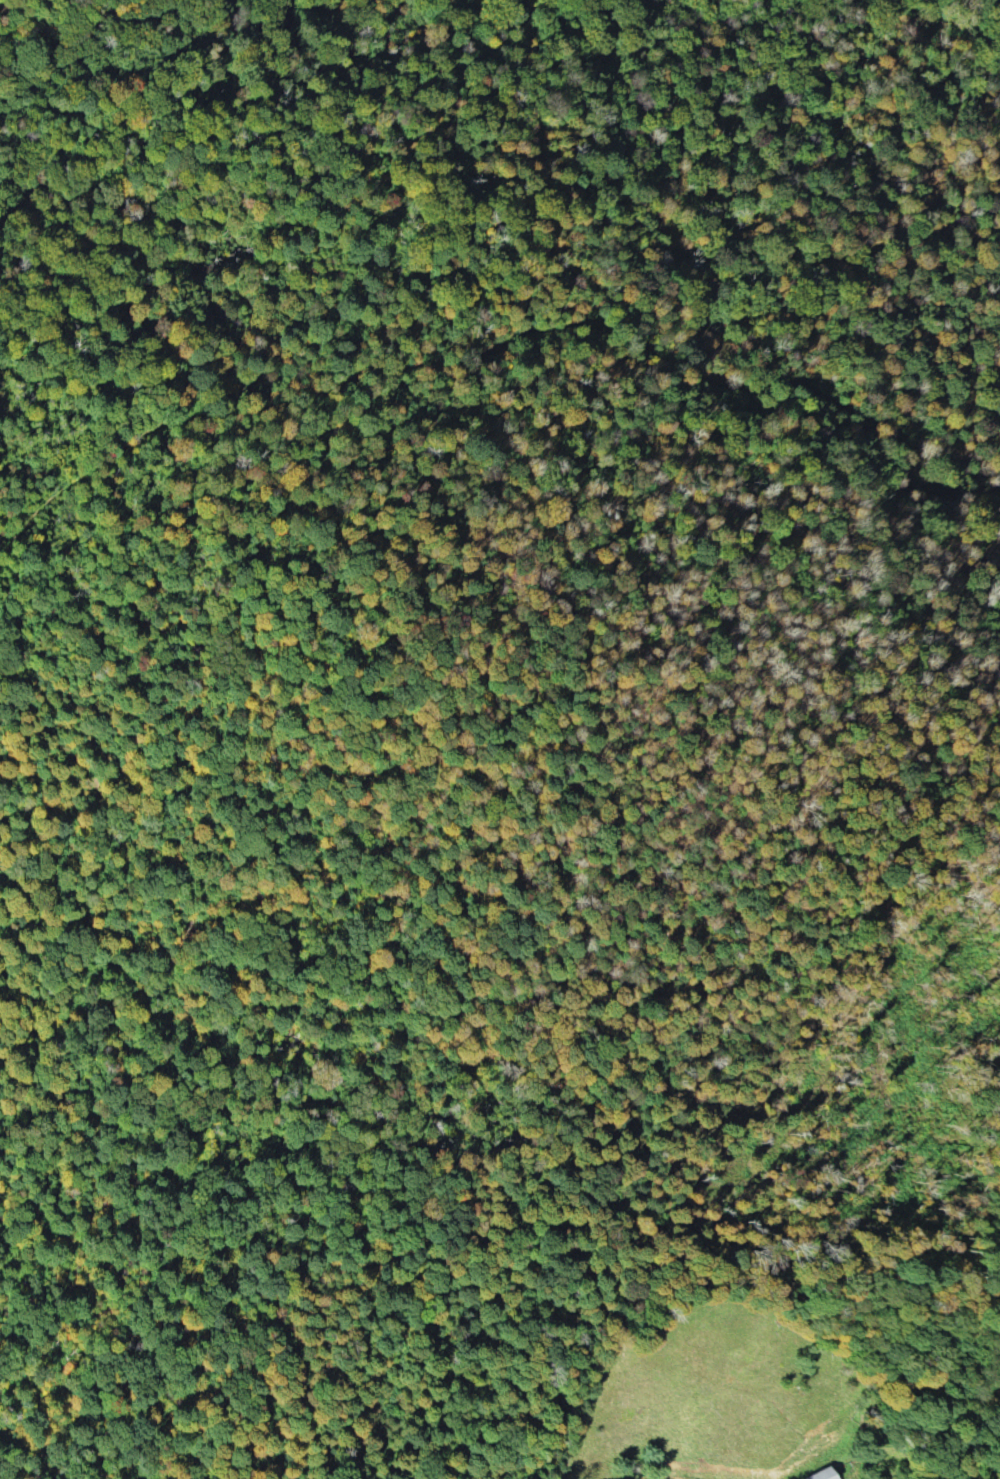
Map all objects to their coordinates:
building: (818, 1475)

